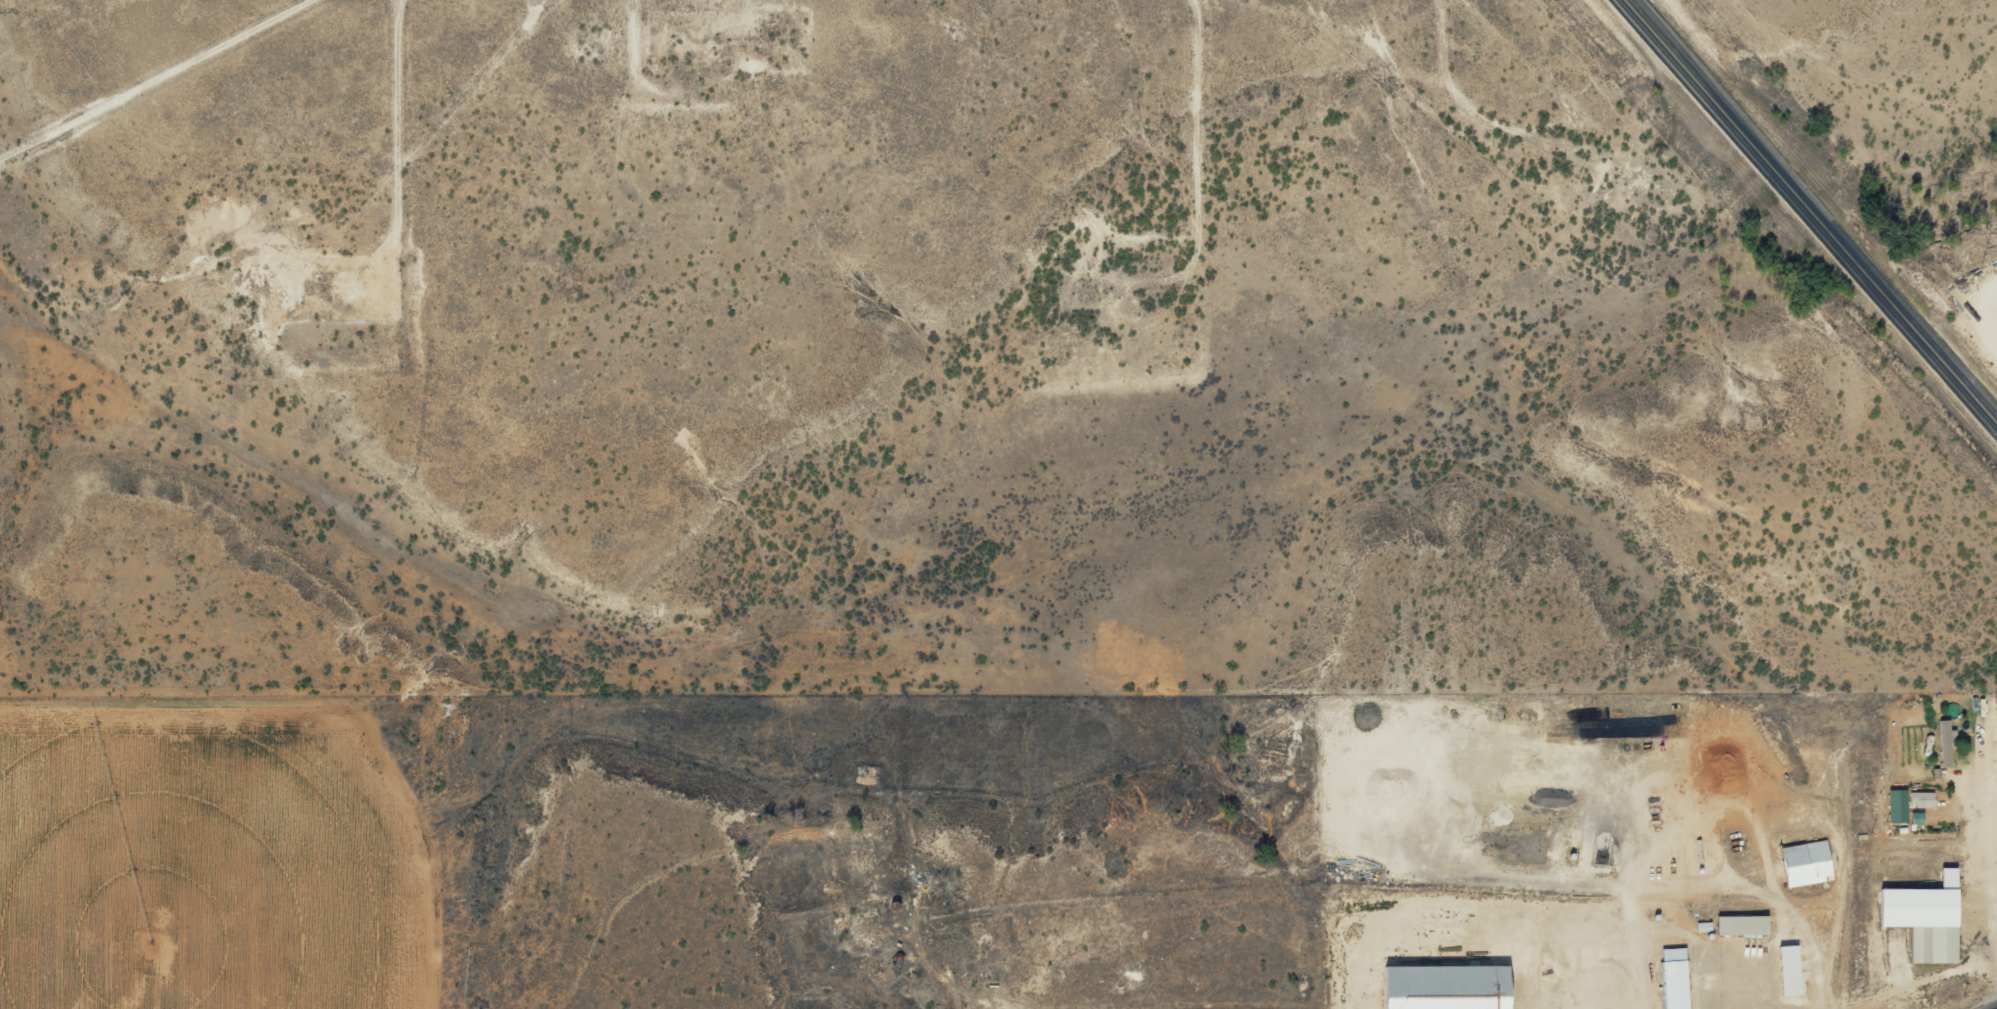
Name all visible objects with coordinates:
road: (166, 79)
road: (1816, 210)
building: (1947, 742)
building: (1923, 798)
building: (1898, 805)
building: (1808, 862)
building: (1928, 917)
building: (1743, 924)
building: (1791, 969)
building: (1676, 978)
building: (1450, 986)

